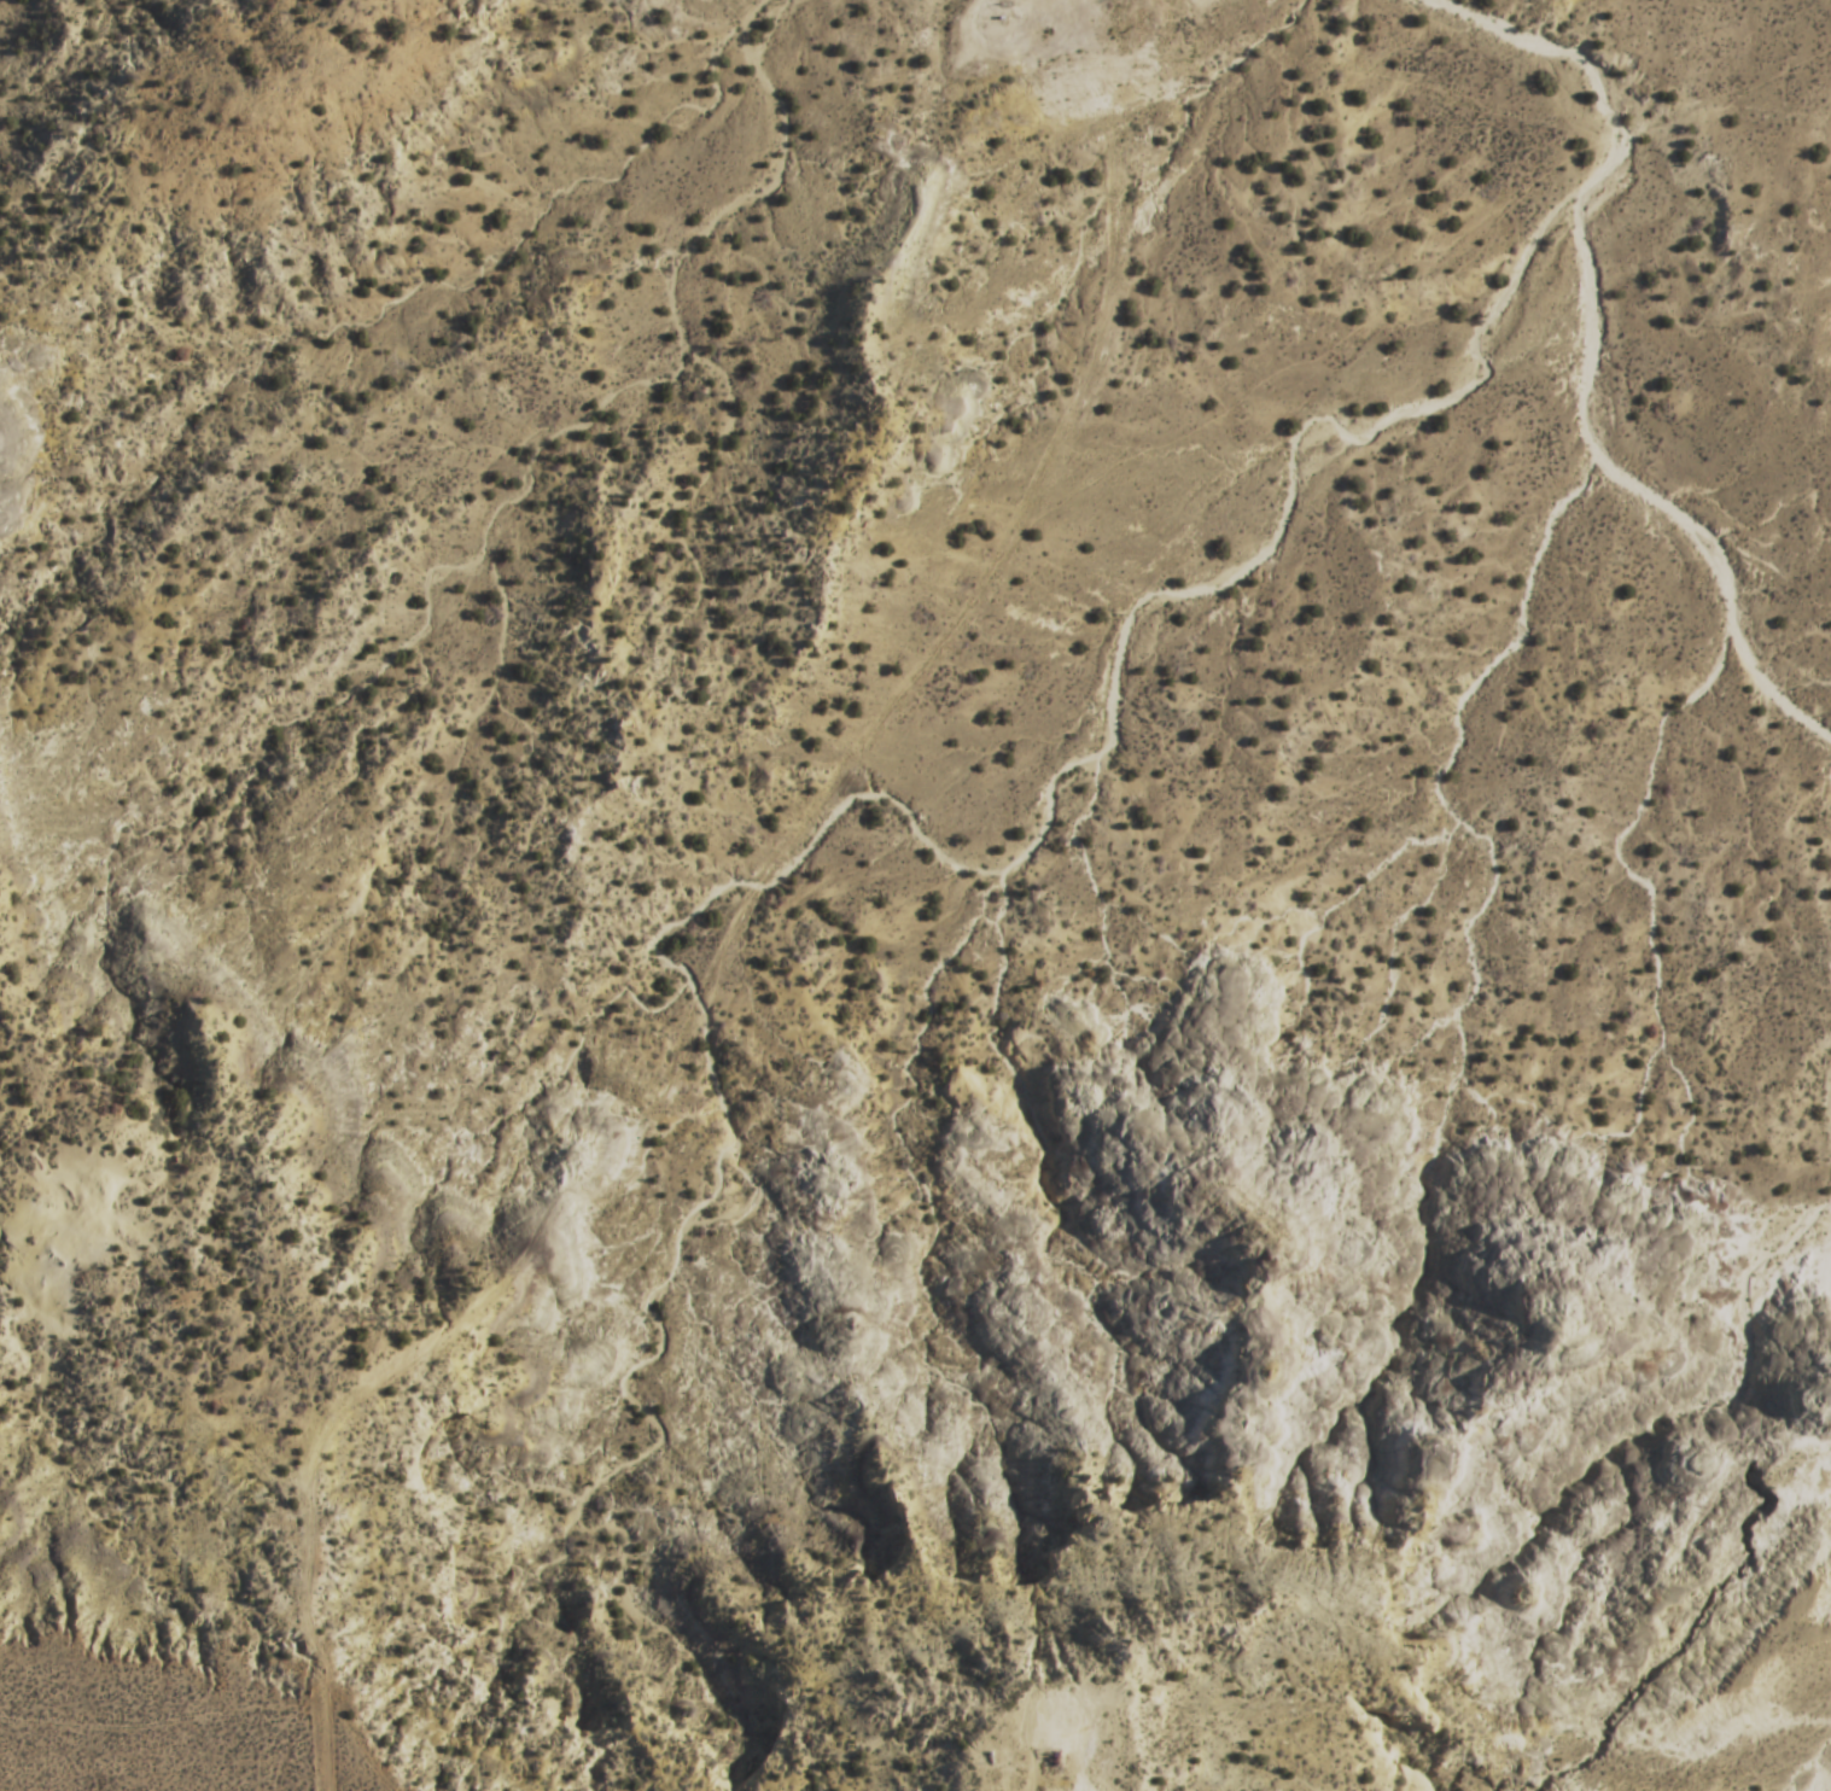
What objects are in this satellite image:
road: (1380, 65)

